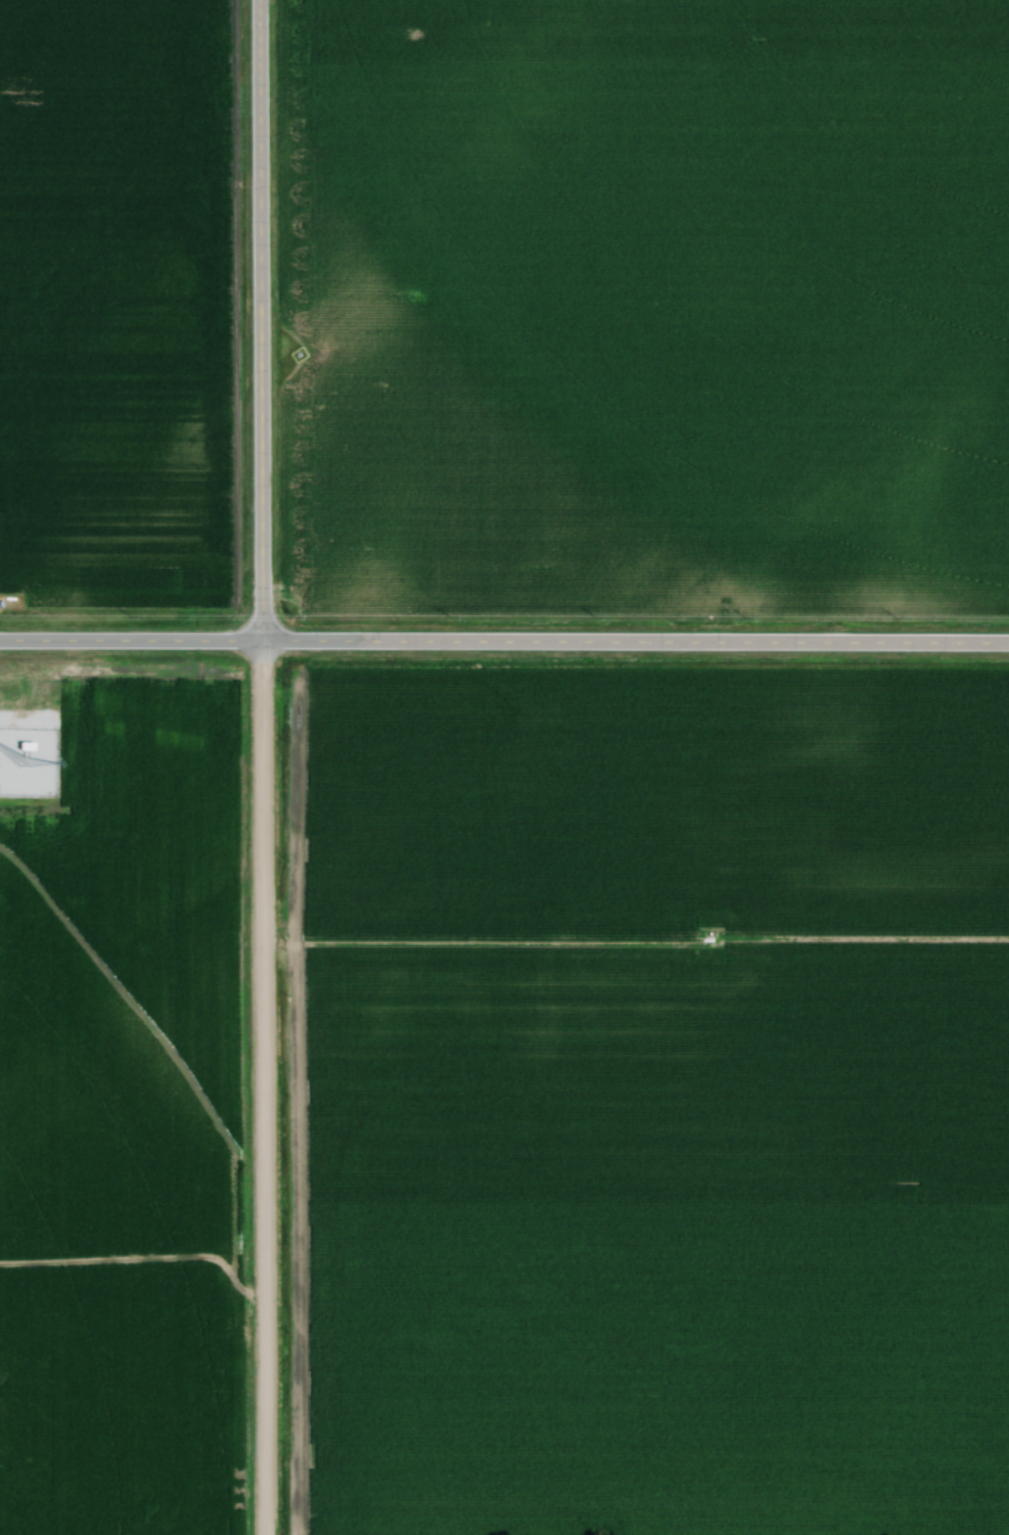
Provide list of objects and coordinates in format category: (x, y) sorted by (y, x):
road: (259, 320)
road: (130, 641)
road: (634, 642)
road: (262, 1088)
crop: (123, 1124)

